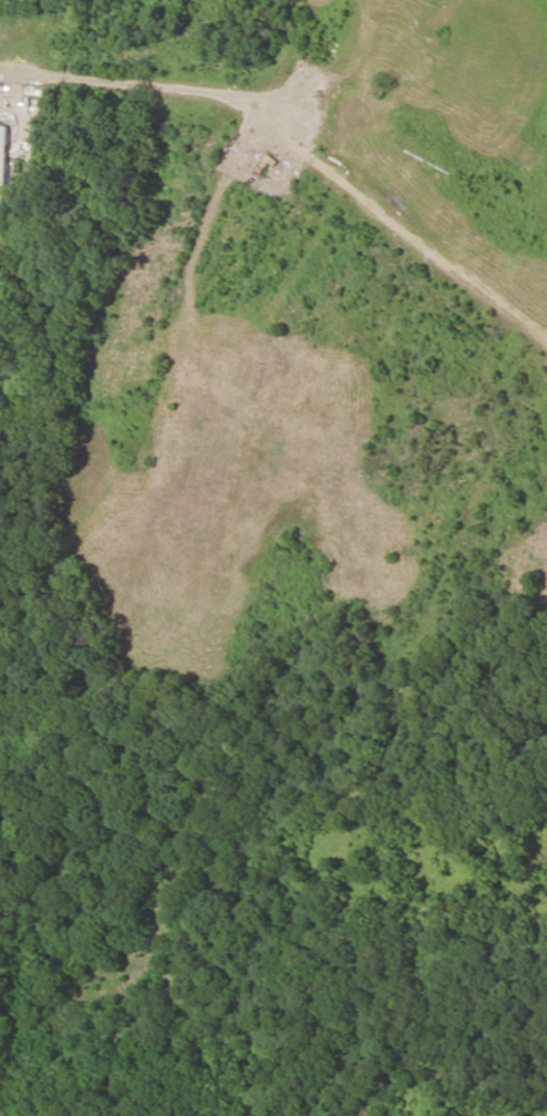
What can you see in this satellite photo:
road: (10, 71)
building: (3, 171)

